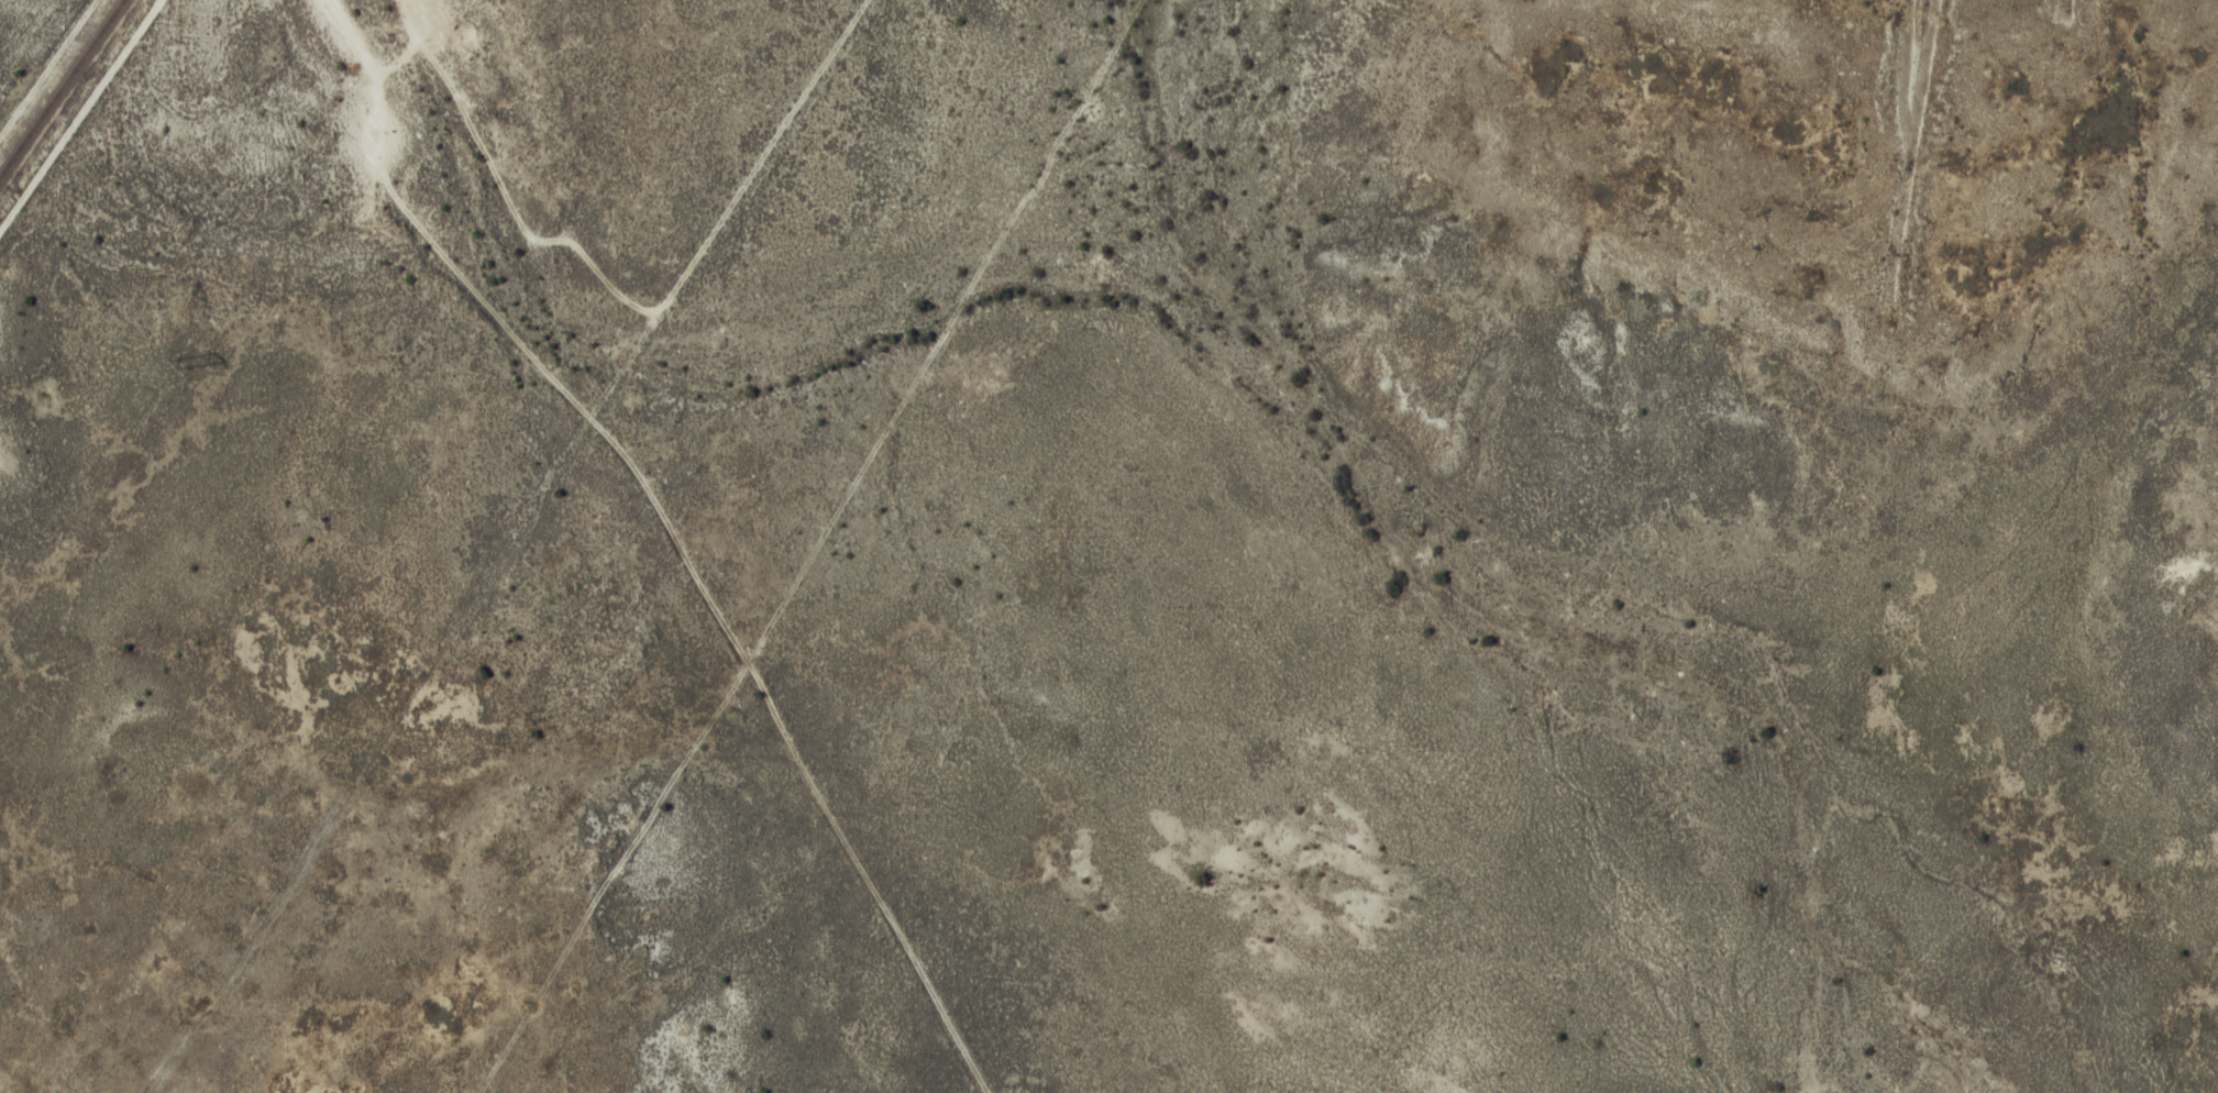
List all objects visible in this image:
railway: (62, 87)
power tower: (181, 360)
road: (660, 527)

